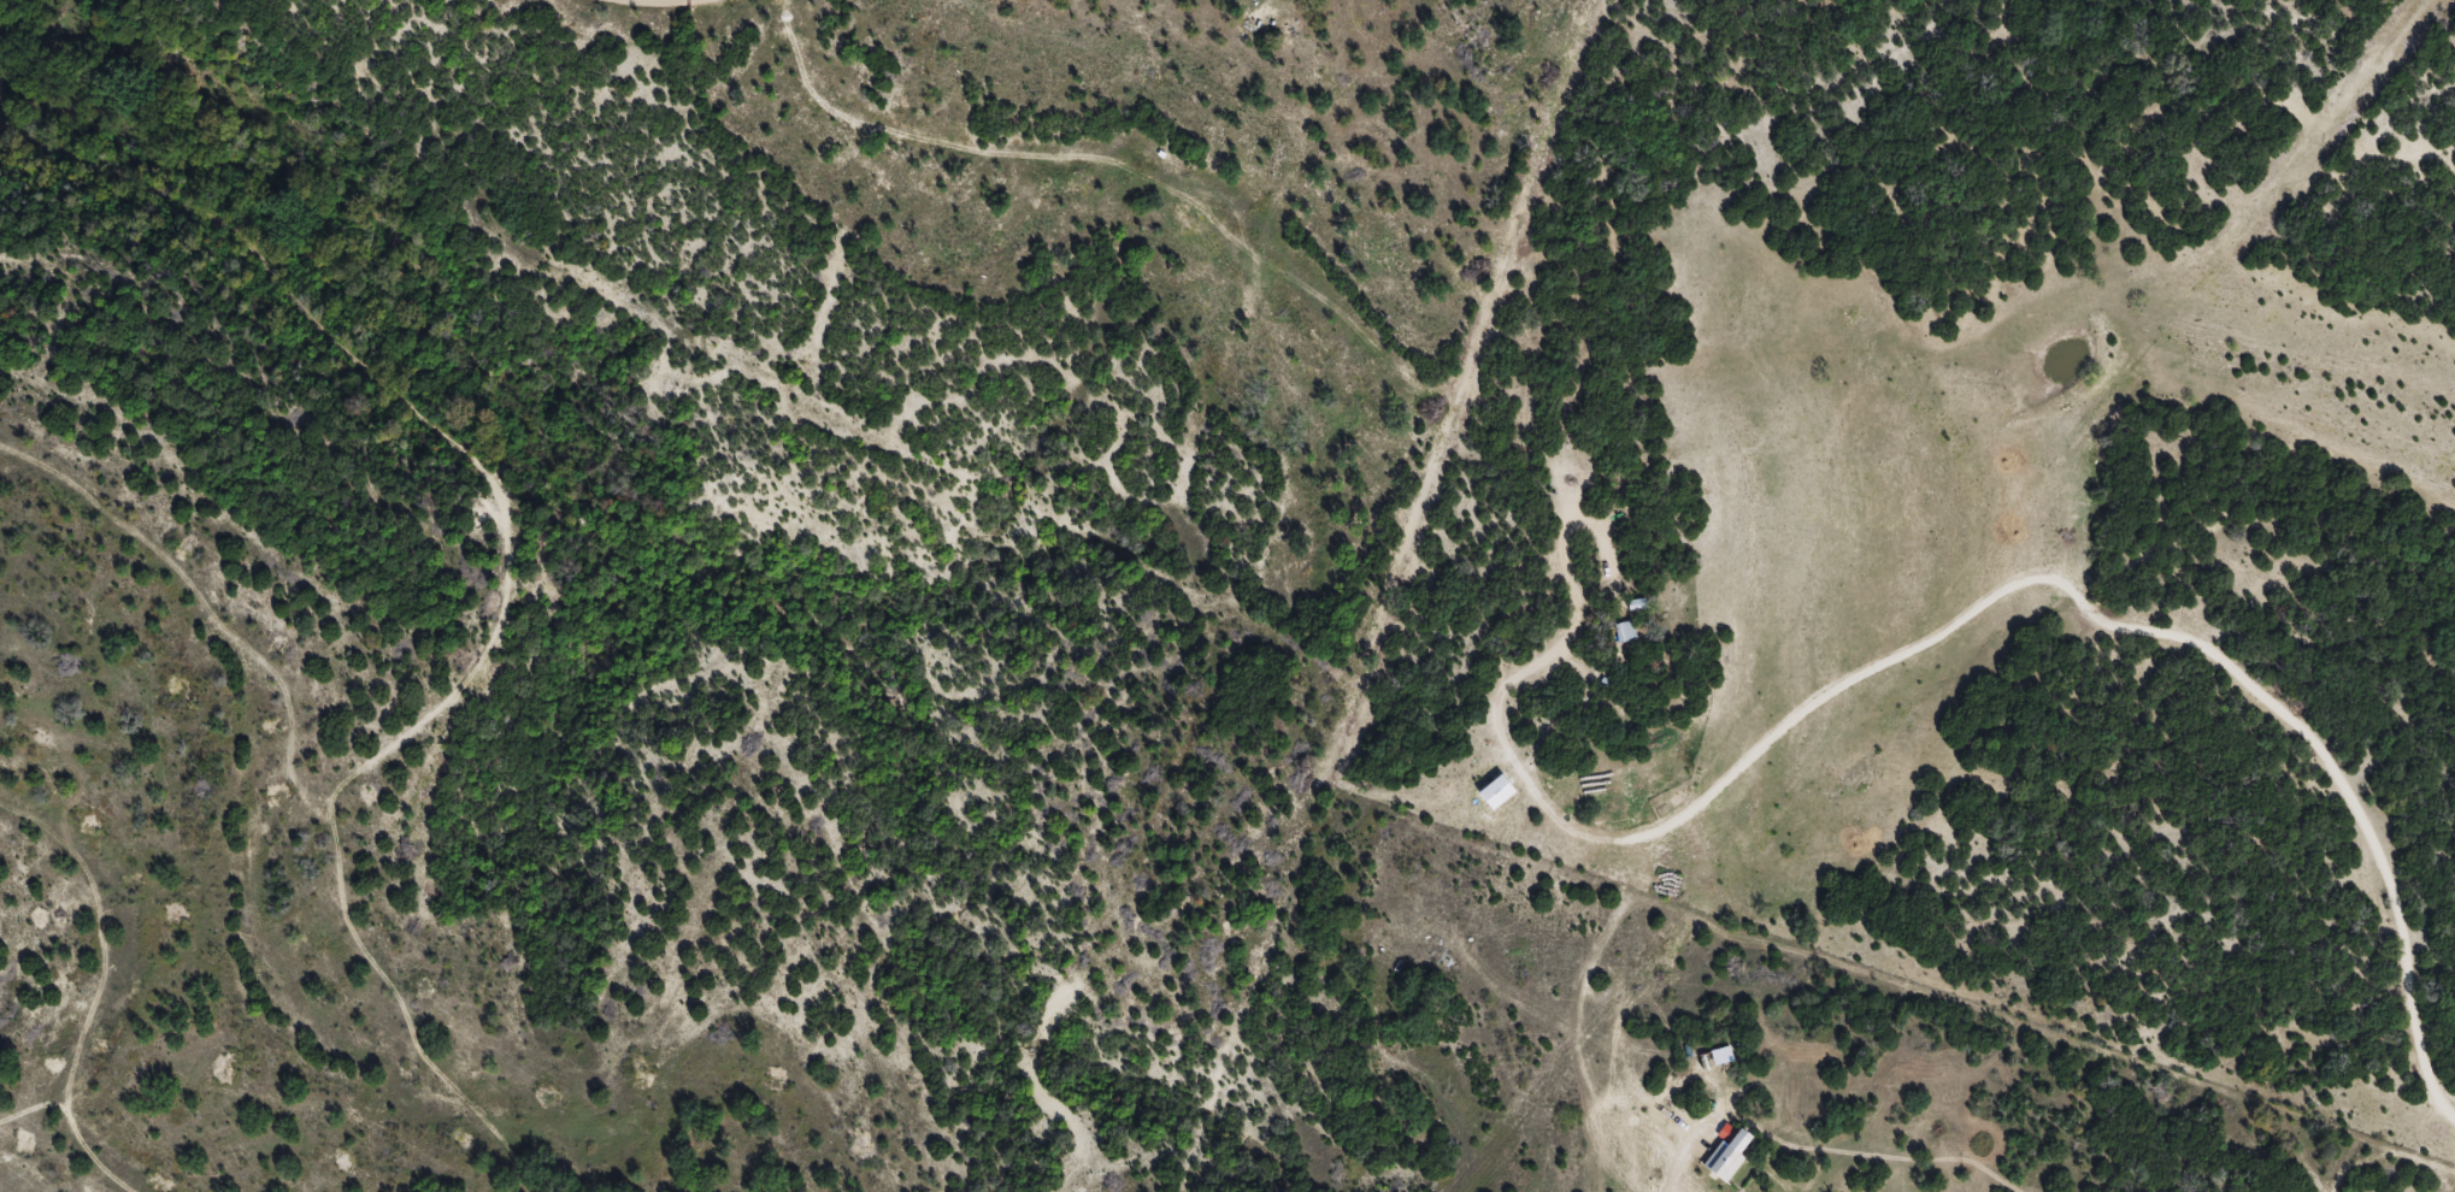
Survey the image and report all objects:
building: (1625, 631)
building: (1729, 1153)

